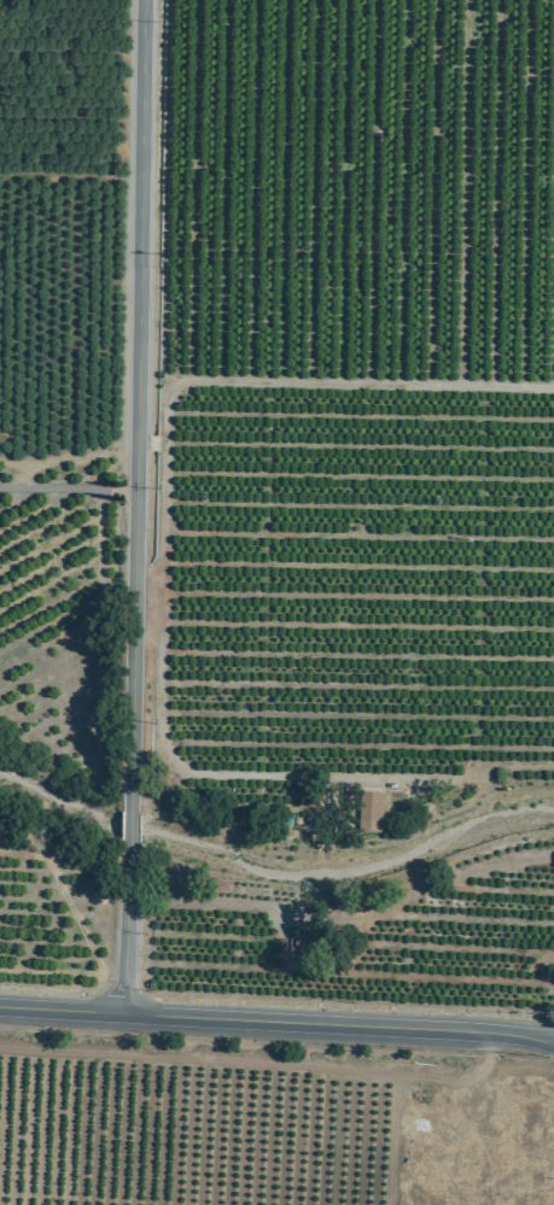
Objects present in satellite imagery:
road: (331, 380)
road: (151, 444)
road: (138, 446)
road: (65, 487)
road: (130, 505)
building: (368, 813)
road: (210, 905)
road: (275, 1019)
road: (552, 1040)
road: (552, 1041)

